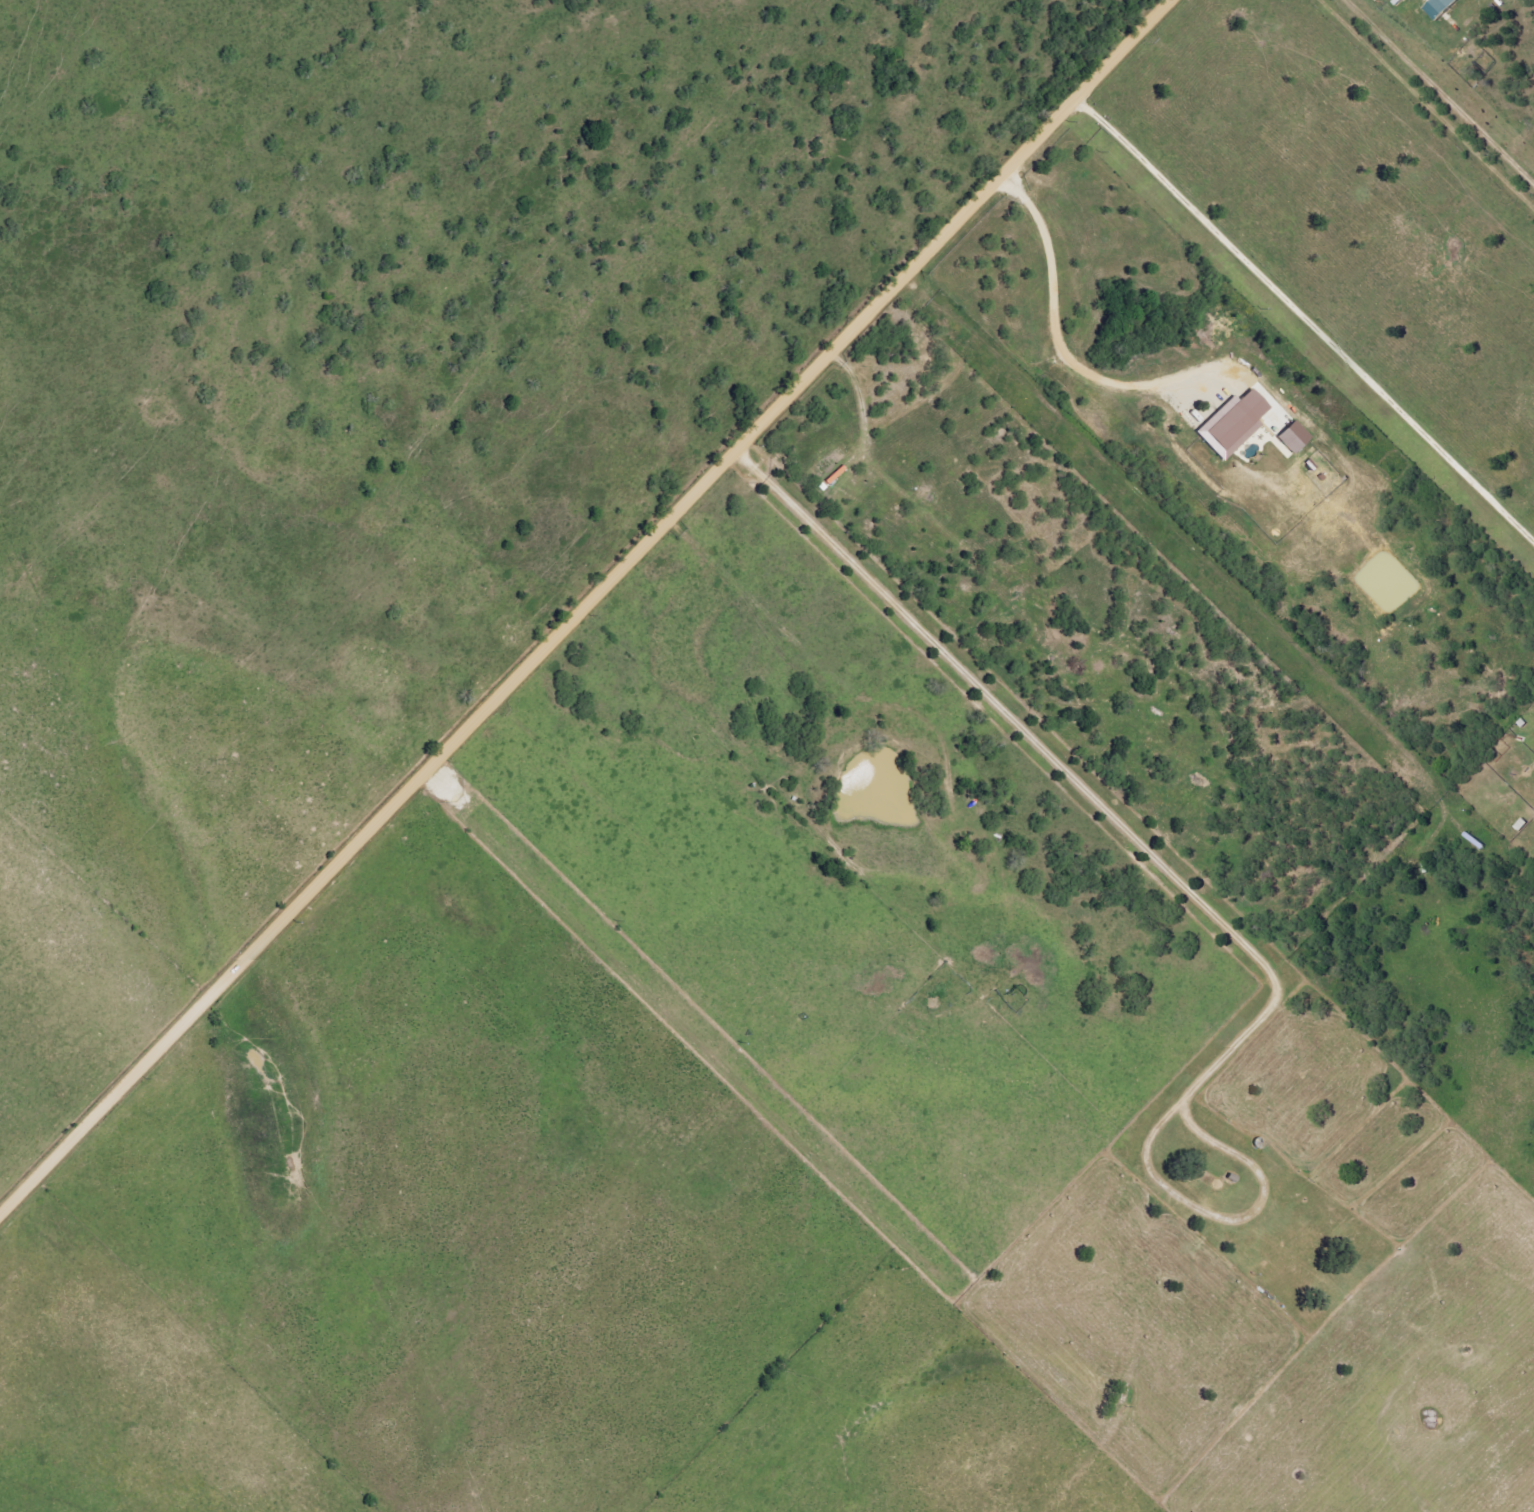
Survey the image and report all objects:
building: (1440, 8)
road: (1305, 322)
road: (1058, 344)
building: (1231, 425)
building: (1292, 437)
road: (585, 607)

